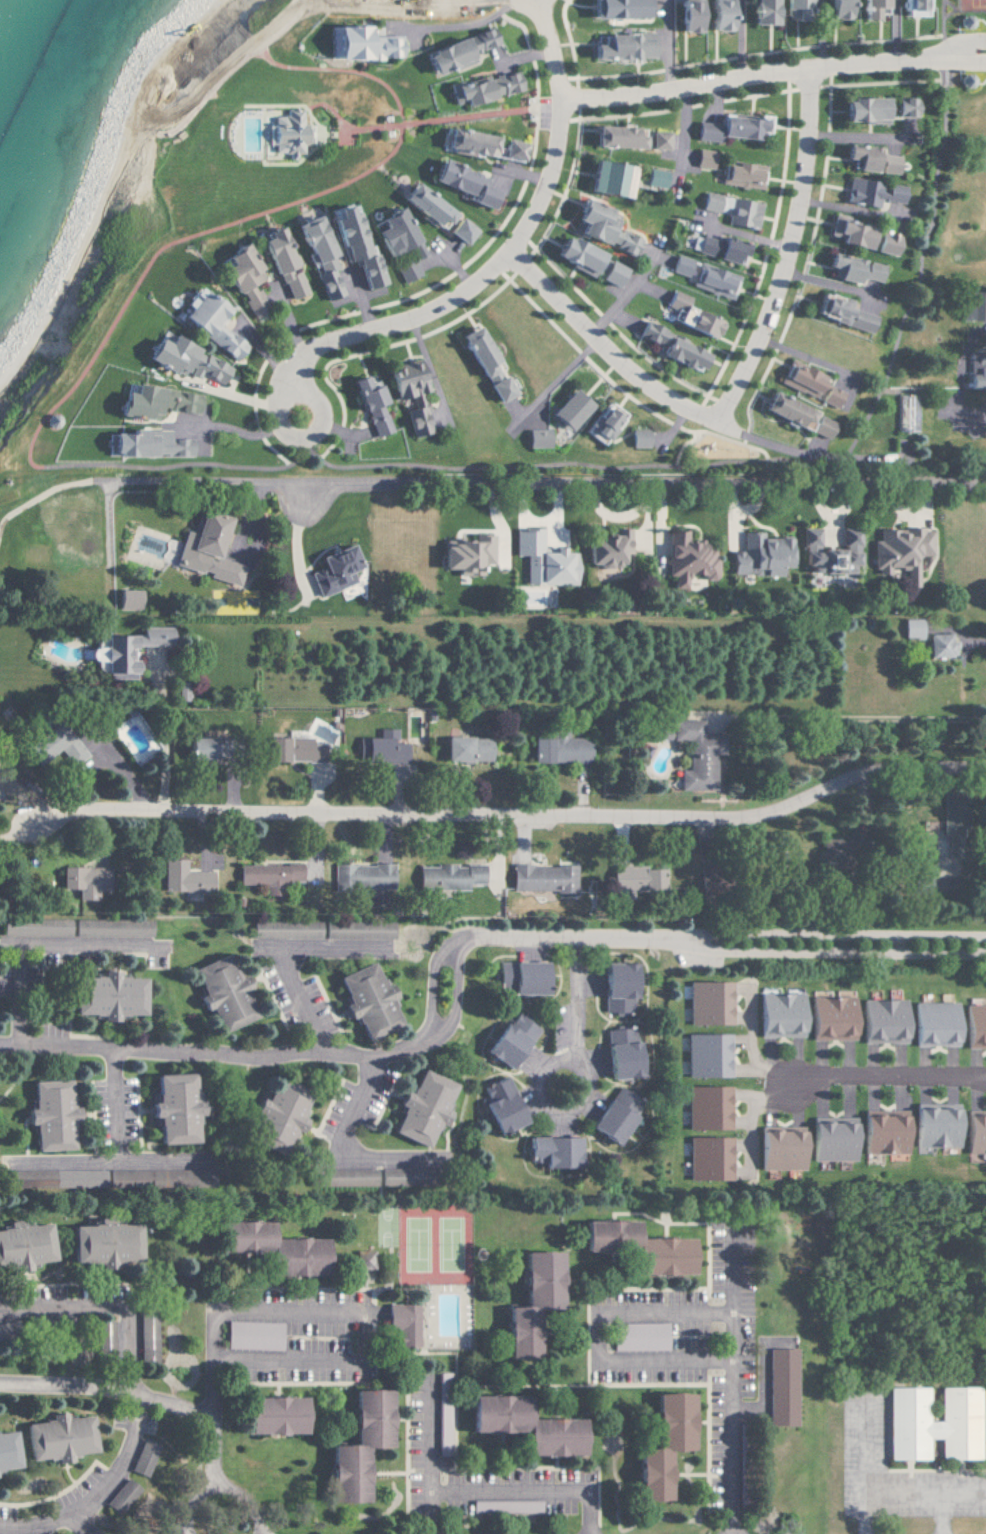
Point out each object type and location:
building: (912, 7)
building: (795, 8)
building: (837, 8)
building: (871, 8)
building: (763, 12)
building: (688, 15)
building: (718, 15)
road: (467, 23)
road: (896, 31)
road: (820, 34)
road: (742, 40)
building: (360, 43)
building: (623, 46)
road: (670, 46)
building: (457, 51)
road: (773, 76)
building: (904, 107)
building: (864, 110)
building: (731, 128)
building: (293, 133)
building: (616, 136)
building: (659, 140)
building: (482, 145)
building: (703, 158)
building: (870, 159)
building: (741, 175)
building: (609, 178)
building: (650, 178)
building: (462, 183)
building: (872, 192)
building: (709, 202)
building: (424, 206)
building: (742, 215)
building: (601, 227)
building: (458, 231)
building: (850, 232)
building: (350, 241)
building: (396, 242)
building: (885, 244)
building: (719, 248)
road: (786, 252)
road: (504, 253)
building: (576, 254)
building: (317, 256)
building: (678, 265)
building: (281, 266)
building: (853, 269)
building: (608, 274)
building: (242, 278)
building: (712, 281)
building: (971, 306)
building: (841, 312)
building: (688, 316)
building: (210, 324)
road: (604, 348)
building: (672, 348)
building: (184, 360)
building: (483, 364)
building: (978, 375)
building: (807, 383)
building: (408, 394)
building: (179, 401)
building: (137, 402)
building: (370, 406)
road: (277, 409)
building: (567, 409)
building: (786, 411)
building: (602, 424)
road: (225, 426)
building: (821, 427)
building: (536, 438)
building: (637, 438)
building: (128, 443)
building: (177, 447)
road: (808, 454)
road: (545, 481)
building: (606, 549)
building: (205, 550)
building: (900, 552)
building: (828, 553)
building: (465, 554)
building: (759, 555)
building: (687, 559)
building: (543, 560)
building: (333, 570)
building: (127, 600)
building: (911, 628)
road: (973, 640)
building: (939, 645)
road: (165, 735)
building: (53, 745)
building: (385, 747)
building: (200, 748)
building: (559, 748)
building: (467, 749)
road: (101, 758)
road: (501, 821)
building: (268, 875)
building: (362, 876)
building: (448, 876)
building: (542, 877)
building: (636, 878)
building: (184, 879)
building: (84, 880)
road: (78, 943)
road: (324, 943)
road: (457, 950)
building: (519, 977)
building: (616, 987)
building: (222, 993)
building: (104, 995)
building: (365, 1000)
building: (708, 1002)
building: (778, 1015)
building: (829, 1017)
building: (881, 1021)
building: (932, 1024)
building: (974, 1026)
building: (509, 1040)
building: (620, 1052)
building: (706, 1055)
road: (887, 1076)
road: (587, 1079)
road: (120, 1104)
building: (499, 1106)
building: (706, 1107)
building: (171, 1108)
building: (420, 1108)
building: (49, 1114)
building: (614, 1115)
building: (275, 1117)
building: (933, 1125)
building: (881, 1131)
building: (974, 1132)
building: (830, 1139)
road: (342, 1141)
building: (778, 1148)
building: (551, 1152)
building: (707, 1158)
building: (99, 1243)
building: (23, 1245)
building: (269, 1247)
building: (635, 1247)
building: (362, 1260)
building: (529, 1303)
road: (109, 1304)
road: (332, 1314)
road: (603, 1314)
building: (400, 1323)
building: (638, 1337)
building: (145, 1339)
building: (780, 1387)
road: (70, 1388)
building: (441, 1392)
building: (270, 1415)
building: (931, 1424)
building: (522, 1425)
road: (426, 1434)
building: (55, 1437)
building: (661, 1445)
building: (355, 1446)
road: (211, 1447)
road: (734, 1448)
building: (6, 1451)
building: (140, 1458)
road: (506, 1490)
road: (889, 1492)
road: (97, 1494)
building: (118, 1496)
building: (504, 1506)
road: (862, 1509)
road: (940, 1513)
road: (75, 1527)

